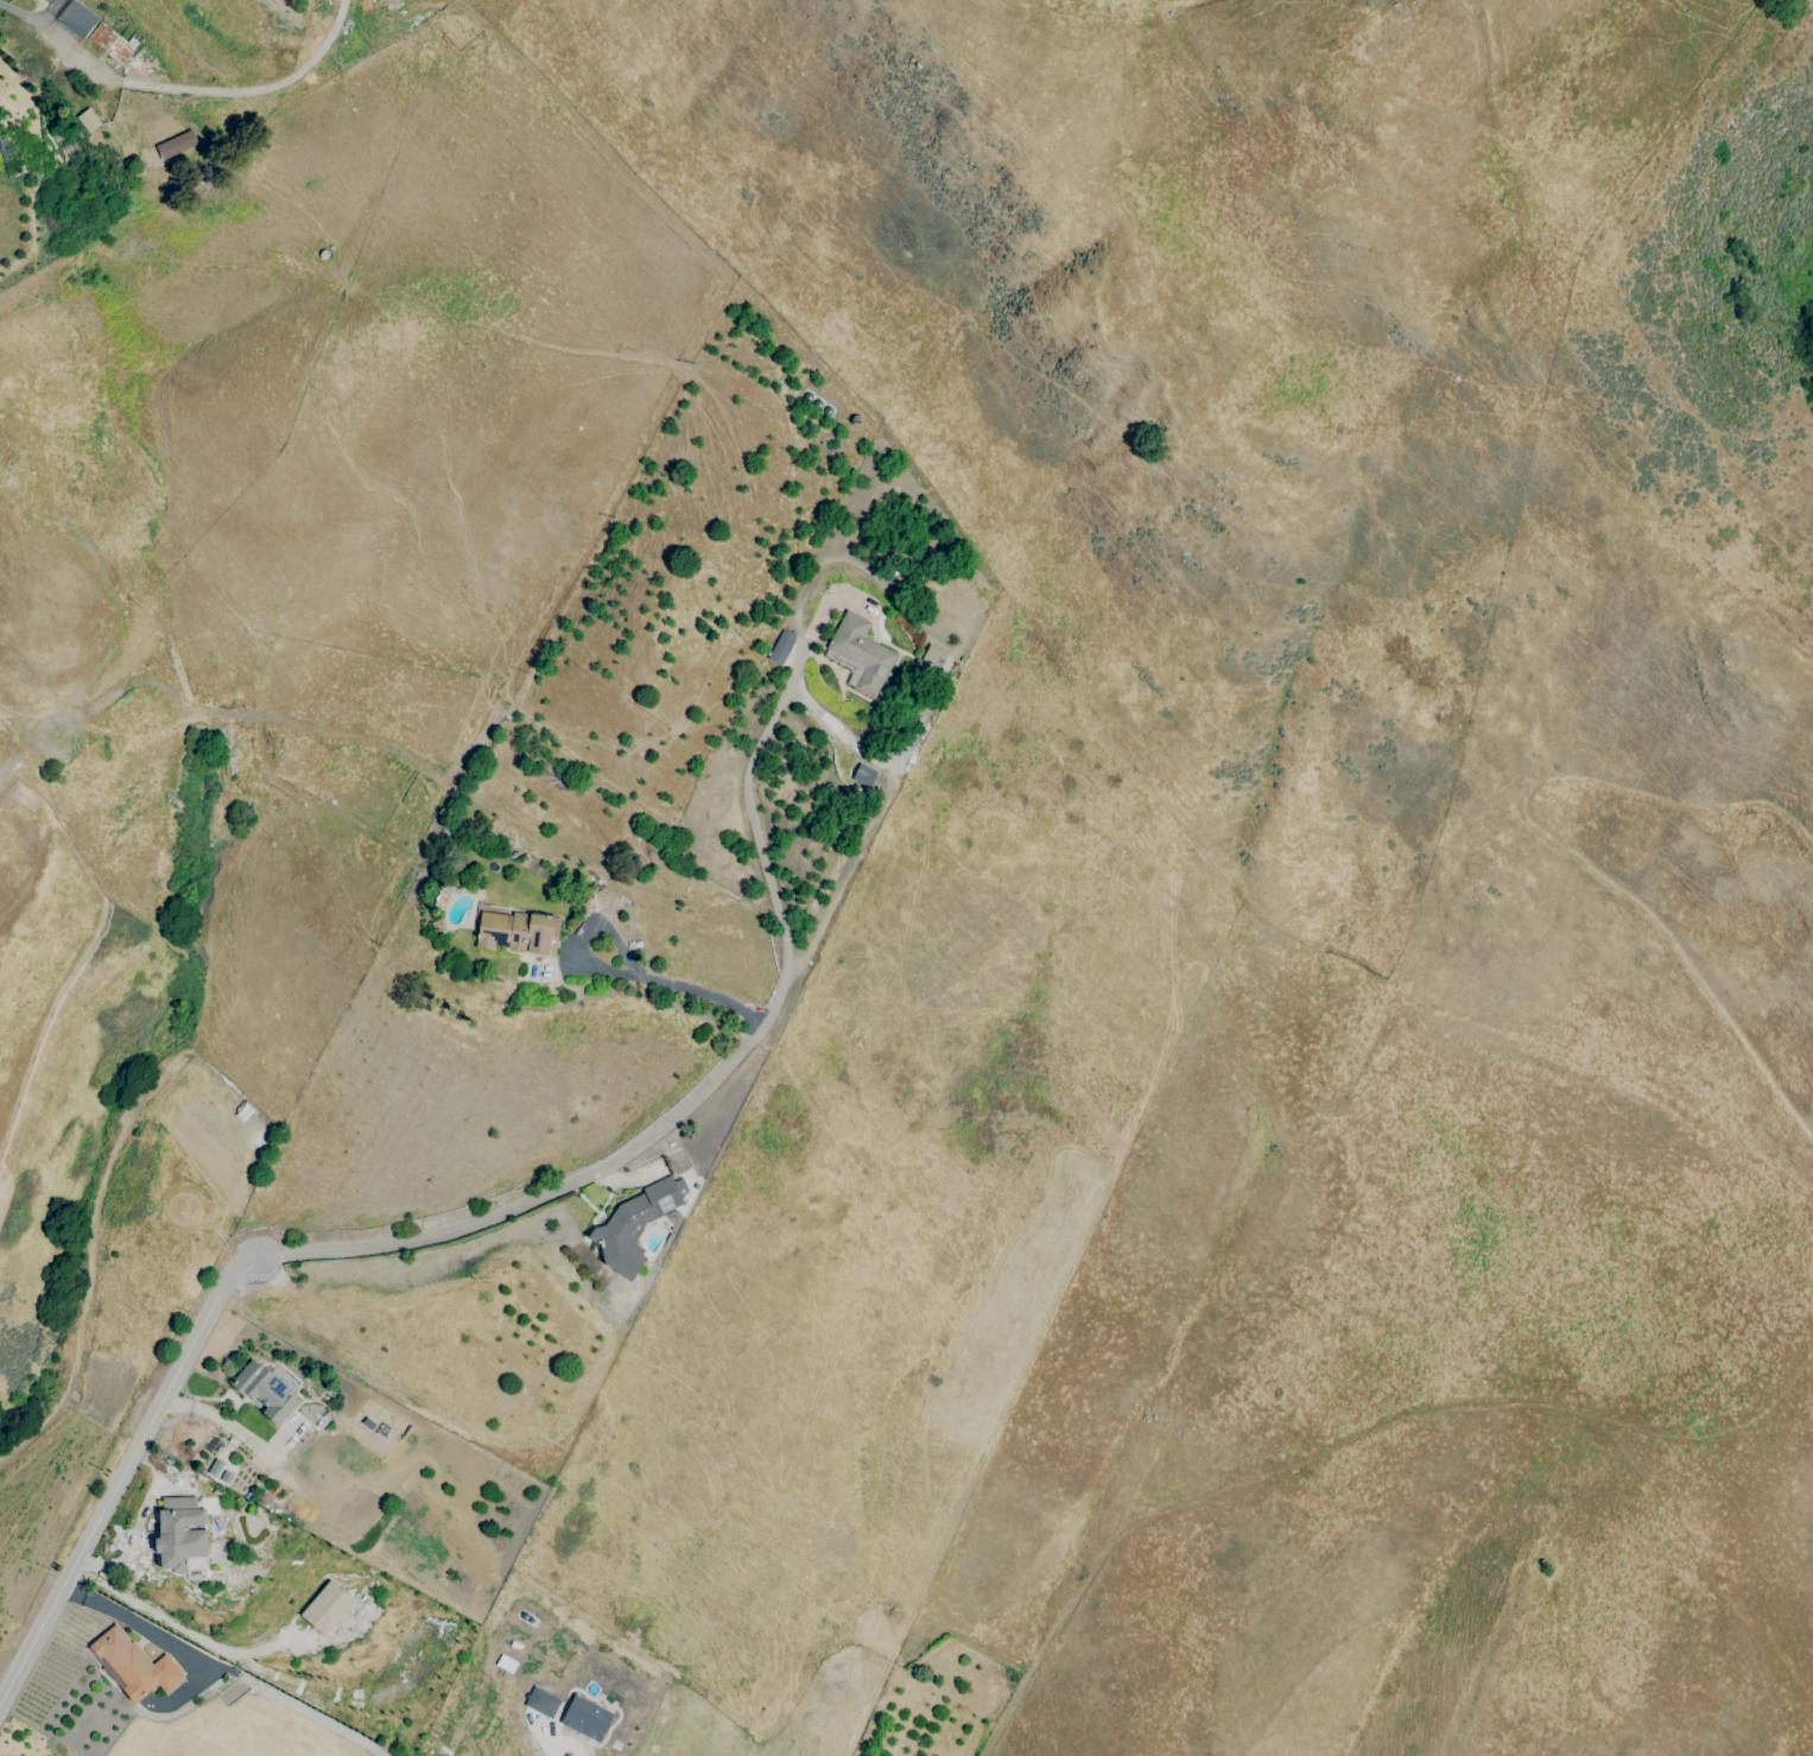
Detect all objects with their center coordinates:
building: (75, 18)
building: (109, 42)
road: (183, 88)
building: (87, 120)
building: (175, 145)
building: (780, 647)
building: (858, 655)
building: (933, 655)
building: (863, 774)
road: (875, 812)
building: (515, 932)
road: (619, 972)
road: (480, 1218)
building: (633, 1224)
building: (266, 1390)
road: (235, 1428)
building: (218, 1471)
building: (178, 1533)
building: (325, 1608)
road: (173, 1625)
building: (132, 1665)
building: (540, 1701)
building: (585, 1717)

